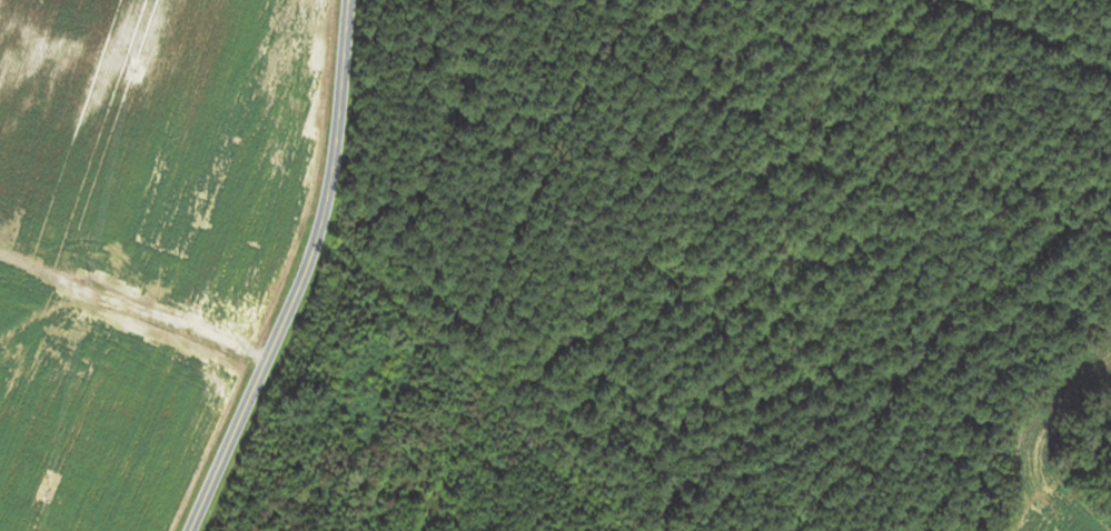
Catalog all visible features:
road: (302, 275)

